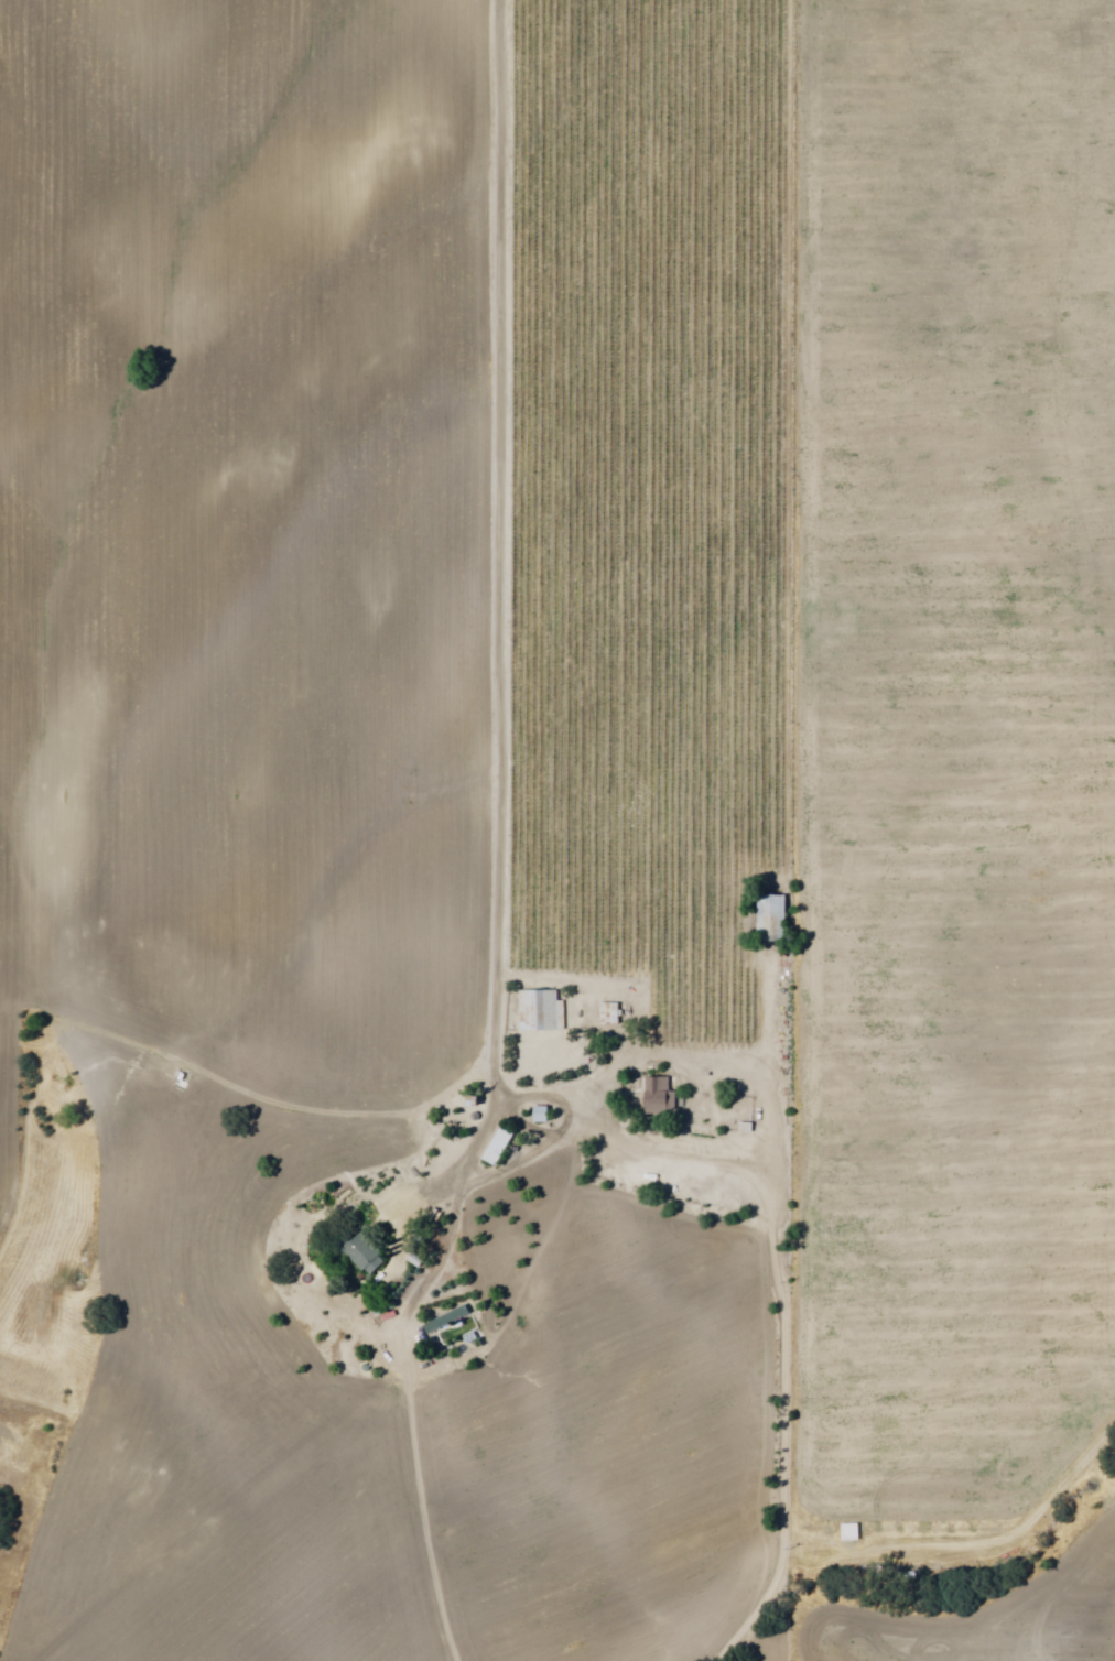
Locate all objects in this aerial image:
road: (497, 606)
building: (773, 915)
building: (541, 1010)
building: (610, 1017)
building: (660, 1096)
building: (542, 1115)
building: (499, 1146)
building: (364, 1255)
building: (448, 1320)
building: (848, 1532)

